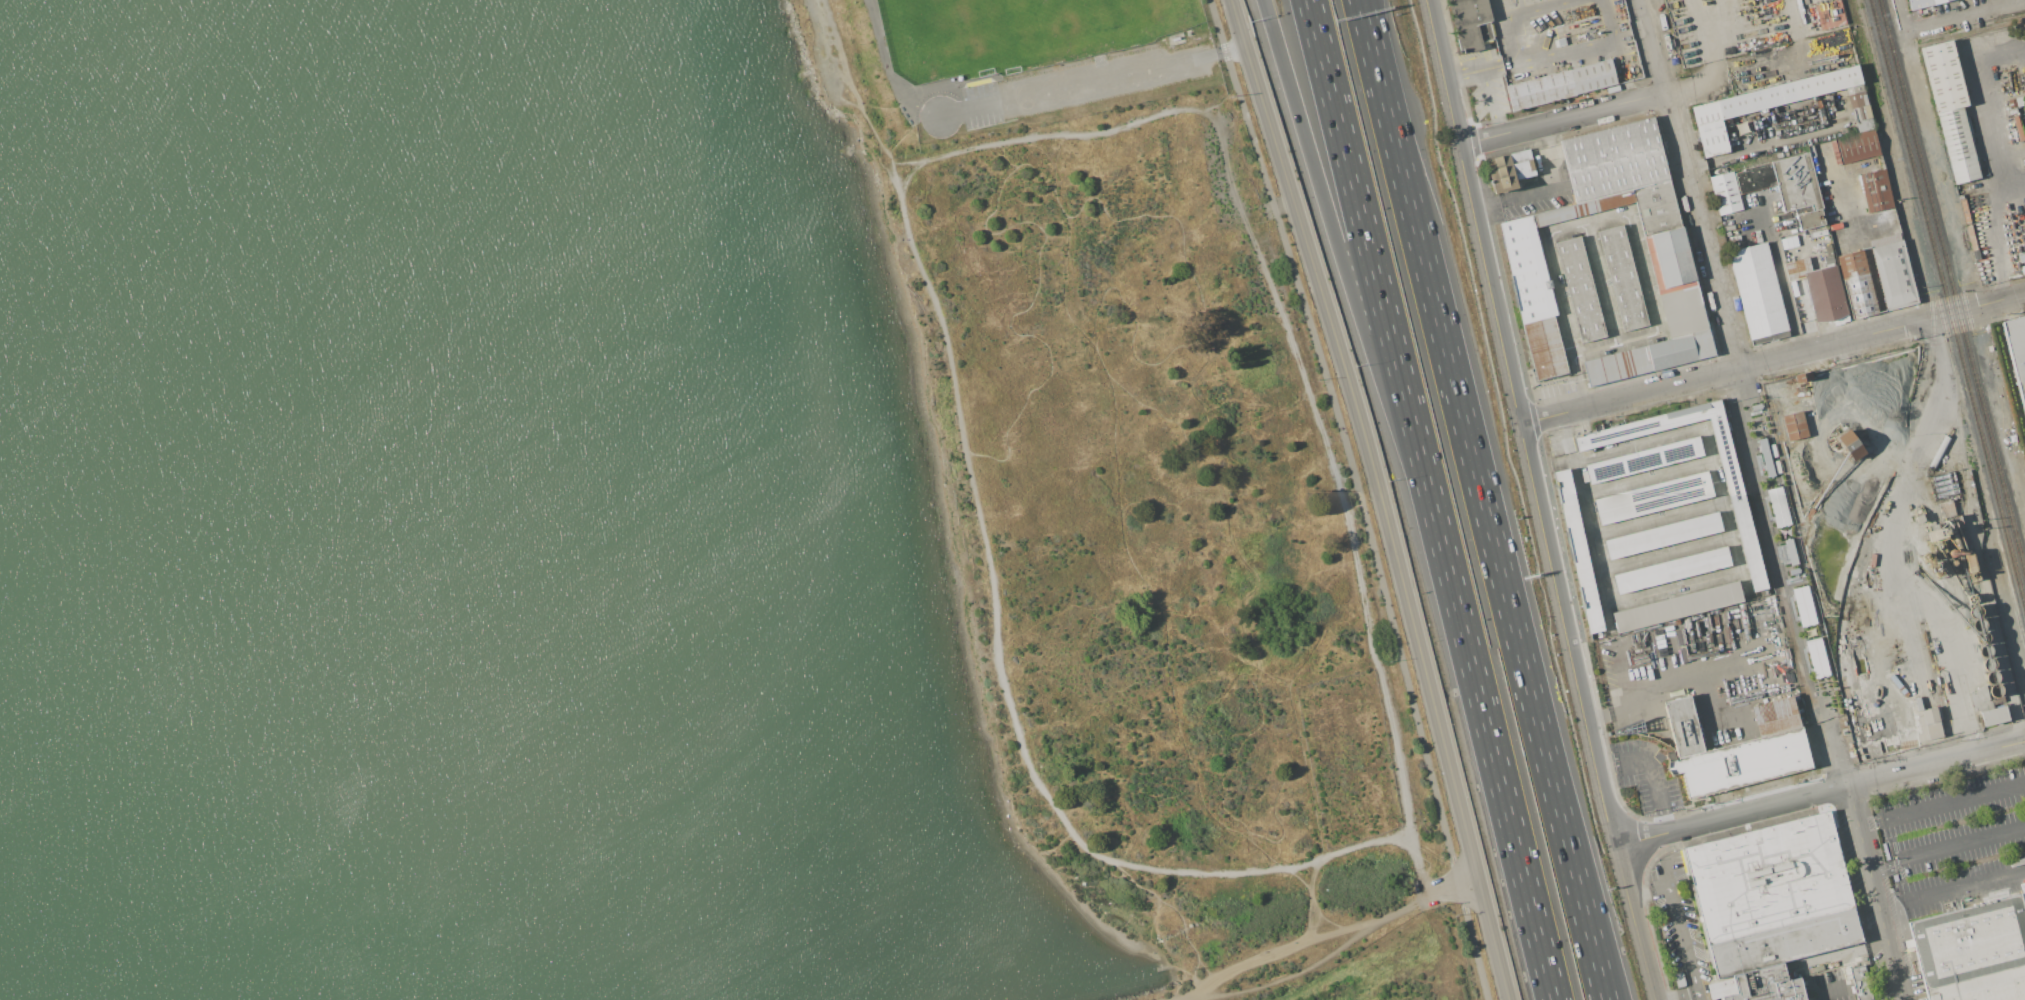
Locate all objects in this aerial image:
building: (1922, 3)
building: (1829, 13)
road: (1968, 14)
road: (1902, 15)
park: (1099, 16)
building: (1470, 23)
park: (955, 28)
road: (1794, 30)
road: (1529, 55)
road: (1376, 56)
road: (1384, 56)
road: (1780, 66)
railway: (1878, 67)
road: (1481, 68)
road: (887, 69)
road: (1093, 81)
road: (957, 82)
building: (1560, 85)
road: (1697, 86)
parking lot: (1066, 87)
railway: (1676, 96)
road: (1491, 102)
building: (1778, 105)
road: (887, 107)
building: (1951, 109)
road: (1563, 120)
road: (910, 128)
road: (1766, 144)
building: (1859, 147)
road: (1998, 157)
building: (1614, 161)
building: (1510, 170)
road: (2015, 180)
road: (1691, 184)
building: (1789, 187)
building: (1877, 191)
building: (1726, 193)
road: (1517, 198)
road: (1631, 211)
road: (1259, 212)
road: (1370, 256)
road: (1340, 258)
building: (1671, 261)
building: (2021, 263)
building: (1893, 272)
building: (1624, 278)
road: (1600, 284)
building: (1858, 284)
railway: (1951, 288)
building: (1820, 289)
building: (1580, 290)
building: (1759, 293)
road: (2006, 301)
railway: (1947, 305)
road: (1278, 311)
railway: (1966, 312)
road: (1955, 314)
road: (1805, 315)
railway: (1944, 328)
railway: (1932, 329)
building: (2017, 351)
railway: (1740, 352)
road: (1720, 373)
road: (1579, 381)
building: (1794, 425)
road: (1566, 437)
parking lot: (1565, 438)
building: (1850, 444)
building: (1645, 460)
road: (1646, 478)
building: (1943, 486)
road: (1360, 496)
road: (1381, 496)
building: (1654, 498)
road: (1535, 501)
building: (1778, 506)
road: (1656, 518)
building: (1743, 519)
park: (1161, 521)
building: (1664, 535)
road: (1892, 541)
building: (1579, 552)
road: (1665, 553)
building: (1787, 553)
road: (1495, 555)
building: (1673, 570)
road: (1739, 571)
road: (1792, 577)
building: (1803, 605)
railway: (2015, 606)
building: (1678, 607)
road: (996, 618)
road: (1669, 682)
building: (1987, 707)
building: (1928, 725)
road: (2002, 745)
building: (1738, 748)
road: (1493, 756)
road: (1912, 768)
road: (1652, 770)
road: (2024, 782)
road: (1939, 803)
road: (1729, 815)
road: (1961, 845)
road: (1882, 868)
railway: (1874, 879)
road: (1102, 882)
road: (1965, 885)
road: (1453, 886)
road: (1648, 893)
road: (1873, 893)
building: (1769, 896)
road: (1311, 898)
road: (1179, 913)
railway: (1889, 925)
road: (1683, 940)
road: (1301, 943)
building: (1973, 953)
park: (1385, 964)
building: (1860, 983)
building: (1766, 986)
road: (1827, 988)
park: (1153, 995)
road: (1682, 996)
road: (1699, 996)
road: (1604, 999)
road: (1604, 999)

